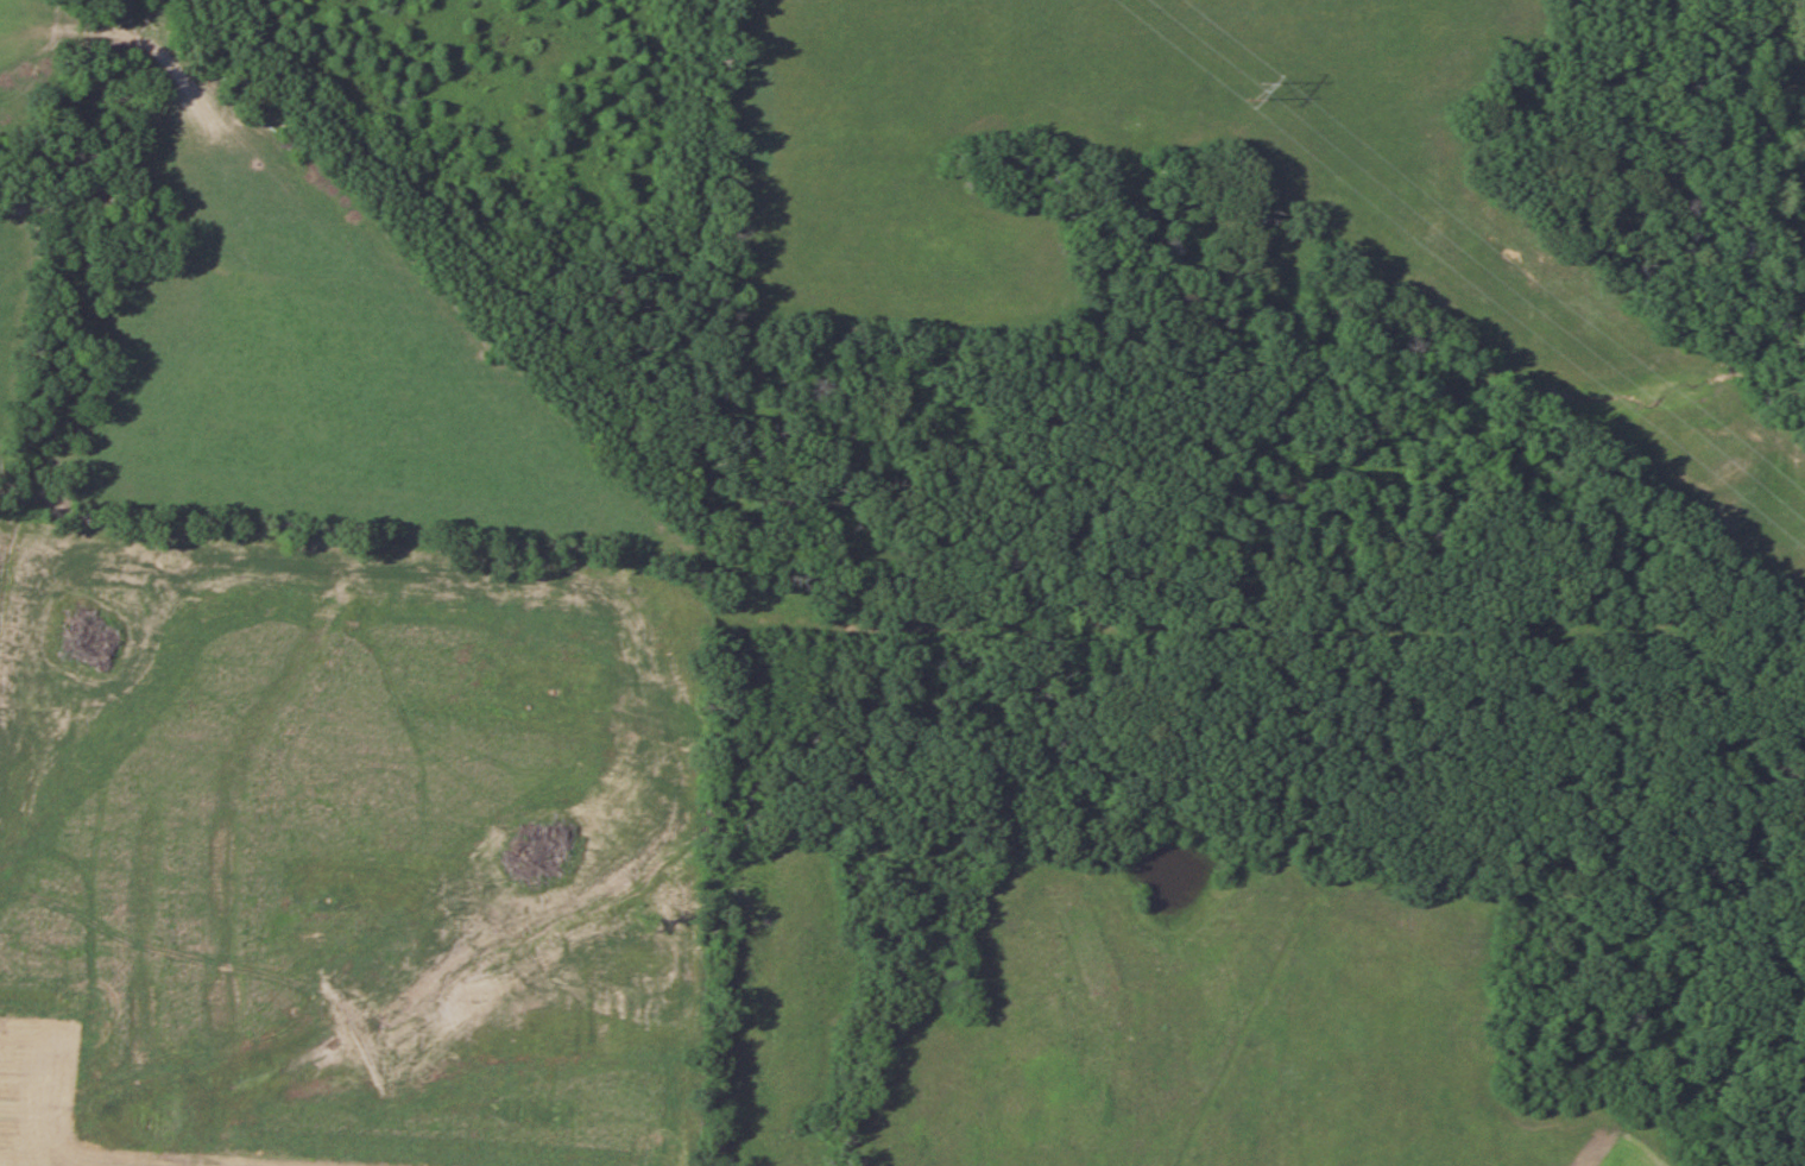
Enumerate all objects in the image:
power tower: (1250, 92)

